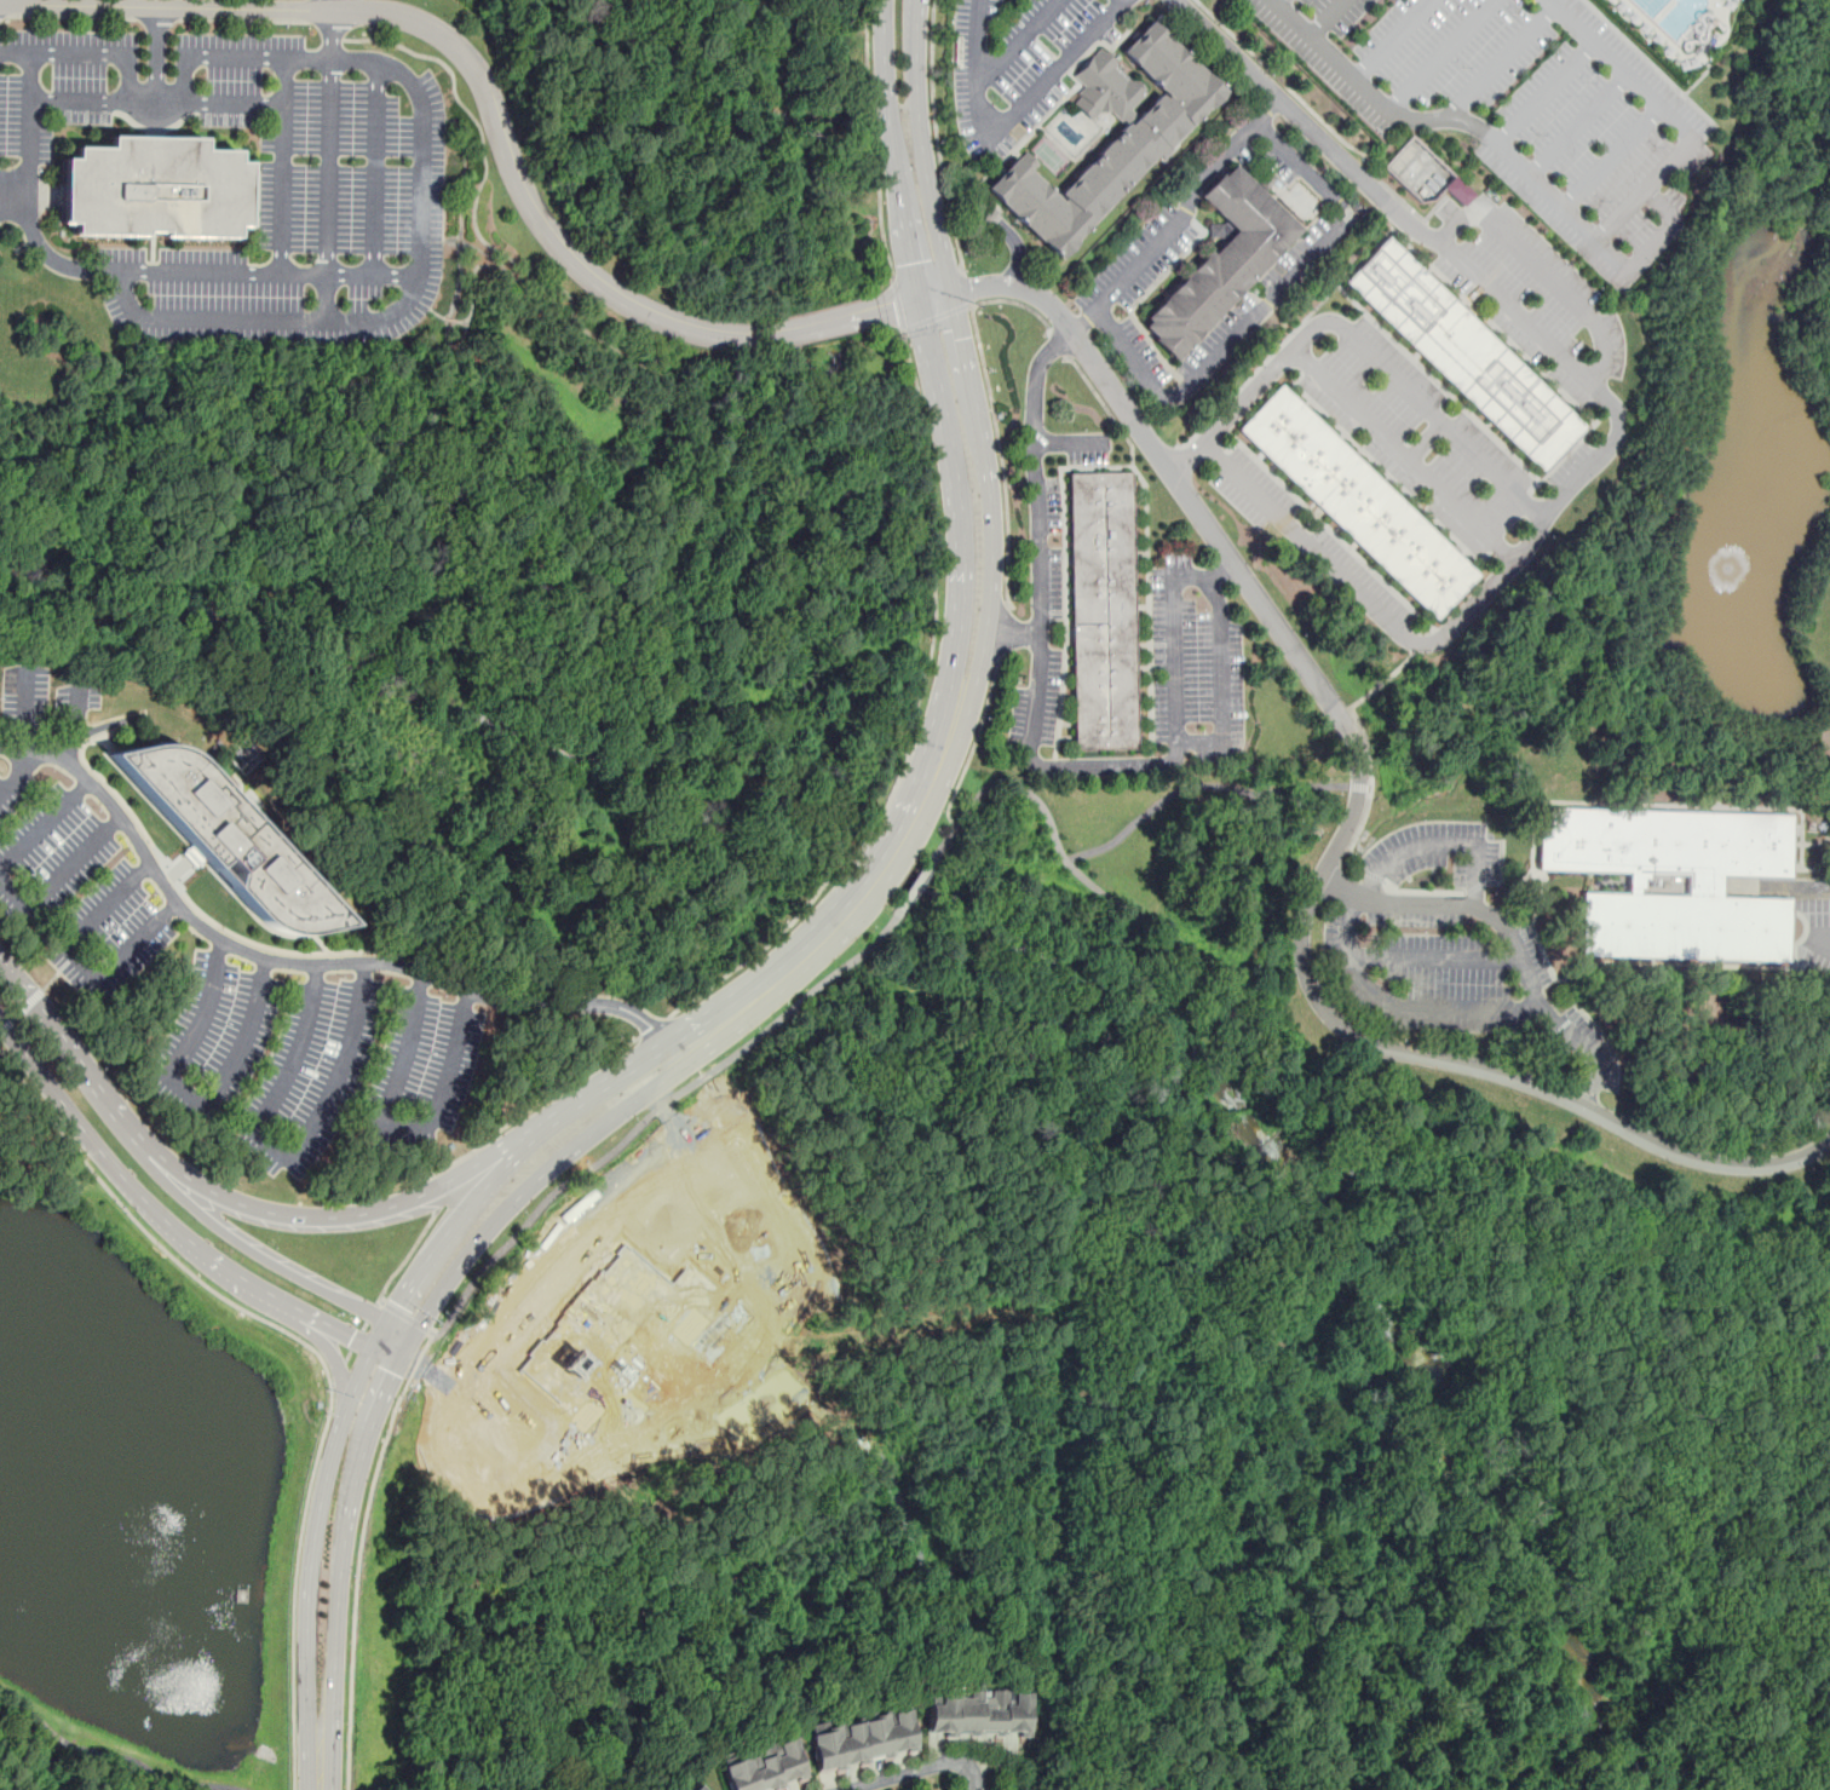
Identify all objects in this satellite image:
road: (1277, 1)
road: (333, 5)
road: (1325, 18)
road: (167, 19)
road: (1392, 40)
road: (1015, 44)
road: (157, 54)
road: (1439, 56)
road: (234, 57)
road: (1500, 58)
road: (974, 69)
road: (1054, 69)
road: (28, 76)
road: (1546, 92)
road: (126, 94)
road: (205, 103)
parking lot: (1518, 108)
road: (1312, 111)
road: (1434, 116)
road: (1669, 116)
road: (1577, 122)
road: (1305, 123)
road: (497, 126)
road: (936, 138)
road: (869, 139)
building: (1140, 140)
road: (330, 142)
road: (1610, 156)
road: (281, 165)
road: (1304, 167)
road: (376, 168)
building: (1425, 173)
building: (151, 186)
road: (13, 190)
parking lot: (350, 206)
road: (1180, 218)
road: (1457, 221)
building: (1220, 231)
road: (1647, 247)
road: (503, 255)
building: (1221, 259)
traffic signals: (913, 263)
road: (266, 272)
road: (470, 282)
road: (1560, 283)
road: (967, 289)
traffic signals: (972, 289)
traffic signals: (919, 301)
road: (897, 304)
road: (1264, 305)
traffic signals: (894, 307)
road: (938, 315)
road: (320, 318)
road: (1526, 323)
traffic signals: (962, 338)
road: (1060, 345)
building: (1463, 352)
road: (1133, 359)
road: (934, 380)
road: (1035, 381)
road: (971, 384)
road: (1251, 393)
road: (991, 408)
road: (1440, 420)
road: (1405, 455)
building: (1357, 502)
road: (1147, 542)
road: (936, 543)
road: (1042, 560)
road: (1219, 570)
building: (1100, 610)
road: (1014, 622)
road: (1002, 633)
road: (1433, 640)
road: (623, 644)
road: (1011, 644)
road: (28, 708)
road: (1350, 708)
road: (80, 727)
road: (1182, 742)
road: (973, 743)
road: (1104, 766)
road: (19, 773)
road: (1196, 785)
road: (1359, 787)
road: (876, 819)
road: (44, 825)
road: (896, 825)
road: (913, 835)
road: (1340, 838)
building: (229, 839)
building: (1664, 841)
road: (1439, 844)
road: (59, 876)
road: (915, 885)
road: (1335, 888)
road: (1811, 890)
road: (179, 898)
road: (186, 899)
building: (1685, 923)
road: (1512, 938)
road: (1817, 938)
road: (756, 951)
road: (79, 957)
road: (1435, 957)
road: (298, 962)
parking lot: (206, 971)
road: (717, 1007)
road: (1405, 1007)
road: (21, 1009)
road: (654, 1026)
road: (1588, 1095)
road: (194, 1100)
road: (531, 1107)
road: (616, 1115)
road: (651, 1115)
road: (74, 1118)
road: (405, 1129)
road: (543, 1130)
park: (31, 1138)
road: (1311, 1143)
road: (283, 1157)
road: (163, 1176)
road: (430, 1192)
road: (351, 1214)
road: (451, 1231)
road: (154, 1241)
road: (407, 1254)
road: (224, 1266)
road: (404, 1316)
traffic signals: (389, 1322)
road: (401, 1328)
road: (334, 1330)
road: (379, 1336)
road: (352, 1346)
road: (328, 1351)
traffic signals: (370, 1351)
road: (382, 1357)
park: (1817, 1358)
park: (144, 1502)
road: (359, 1554)
road: (307, 1565)
road: (341, 1572)
road: (294, 1590)
building: (973, 1715)
building: (858, 1739)
road: (114, 1756)
building: (760, 1766)
road: (934, 1785)
building: (690, 1786)

